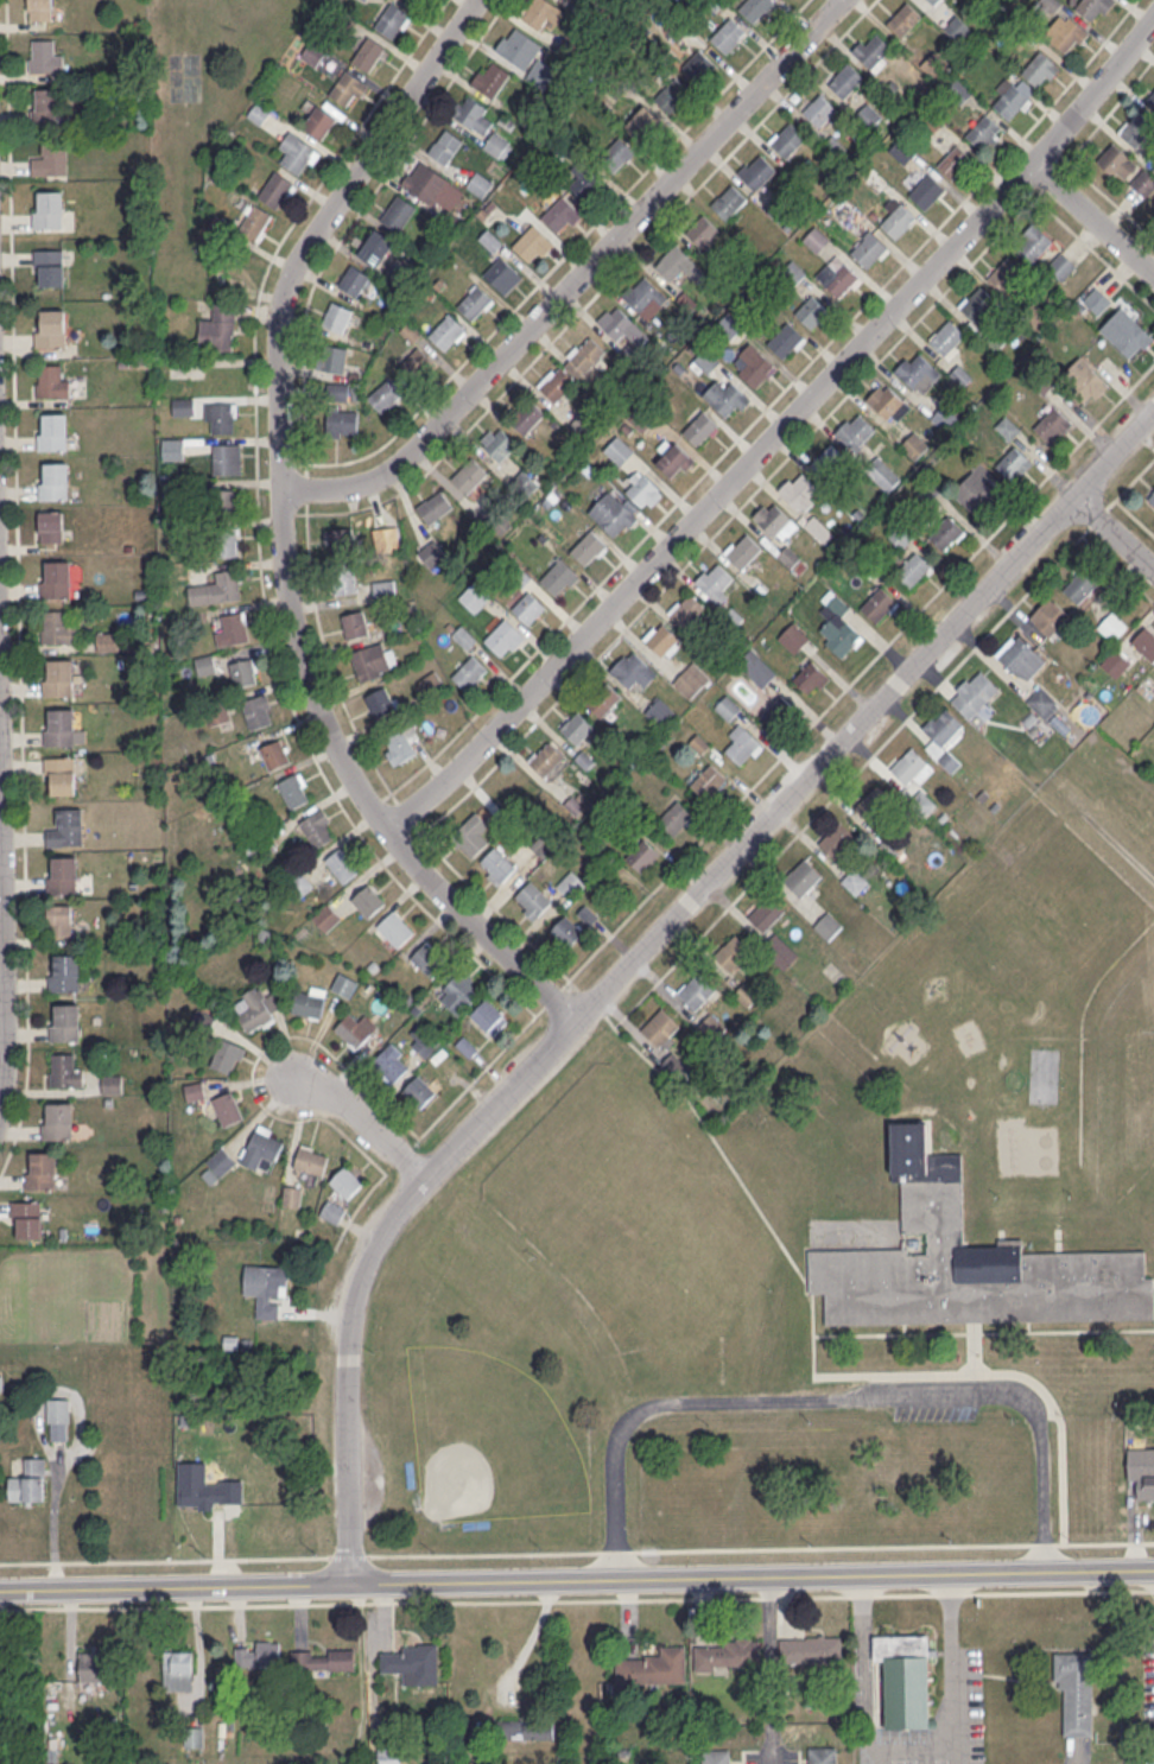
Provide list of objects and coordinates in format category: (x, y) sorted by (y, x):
building: (363, 0)
building: (411, 1)
building: (933, 1)
building: (1090, 6)
building: (754, 7)
building: (40, 9)
building: (543, 12)
building: (903, 18)
building: (391, 19)
building: (957, 27)
building: (1066, 32)
building: (727, 33)
building: (514, 43)
building: (873, 50)
building: (312, 52)
building: (368, 53)
building: (44, 57)
building: (698, 65)
building: (1038, 68)
building: (490, 77)
park: (183, 78)
building: (845, 80)
building: (345, 87)
park: (205, 88)
building: (958, 90)
building: (672, 95)
building: (1150, 99)
building: (1010, 101)
building: (46, 104)
building: (818, 109)
building: (474, 114)
building: (868, 115)
building: (319, 121)
building: (642, 121)
building: (982, 131)
building: (1137, 131)
building: (787, 139)
building: (444, 145)
building: (497, 145)
building: (901, 150)
building: (296, 151)
building: (615, 152)
building: (51, 158)
building: (953, 160)
building: (1124, 167)
building: (757, 172)
building: (480, 183)
building: (584, 183)
building: (432, 185)
building: (274, 188)
building: (926, 190)
building: (729, 199)
road: (1110, 199)
building: (49, 209)
building: (398, 211)
building: (559, 211)
road: (353, 218)
road: (1093, 218)
building: (898, 220)
building: (255, 221)
building: (702, 230)
building: (816, 239)
building: (530, 241)
building: (376, 243)
building: (1034, 243)
building: (868, 248)
road: (1095, 250)
road: (563, 255)
building: (673, 262)
building: (50, 265)
building: (1061, 265)
building: (393, 273)
building: (1004, 273)
building: (502, 274)
road: (582, 278)
building: (841, 278)
building: (354, 279)
road: (601, 287)
building: (641, 293)
building: (1097, 299)
building: (475, 303)
building: (977, 303)
building: (811, 310)
building: (337, 317)
building: (615, 322)
building: (729, 325)
building: (51, 328)
building: (217, 328)
building: (446, 330)
building: (1127, 330)
building: (946, 336)
building: (786, 340)
building: (586, 354)
building: (332, 357)
building: (417, 361)
building: (704, 362)
building: (756, 369)
building: (917, 369)
building: (51, 381)
building: (1086, 383)
building: (558, 385)
building: (386, 394)
building: (725, 396)
building: (888, 402)
building: (183, 405)
road: (766, 407)
building: (220, 417)
building: (526, 417)
building: (342, 421)
building: (1051, 424)
building: (1008, 426)
building: (699, 427)
building: (53, 430)
road: (781, 432)
building: (856, 432)
building: (497, 442)
building: (917, 443)
building: (172, 449)
building: (619, 450)
road: (790, 453)
building: (673, 457)
building: (227, 458)
building: (828, 462)
building: (1012, 462)
road: (287, 464)
building: (882, 472)
building: (468, 475)
building: (55, 480)
road: (305, 487)
building: (642, 489)
building: (798, 489)
building: (974, 490)
building: (1150, 496)
building: (223, 501)
building: (433, 506)
road: (287, 513)
road: (1134, 515)
building: (616, 518)
building: (775, 520)
building: (51, 525)
road: (256, 525)
road: (281, 529)
road: (1116, 529)
building: (945, 532)
building: (387, 533)
building: (902, 534)
building: (341, 540)
building: (226, 542)
building: (588, 546)
building: (744, 550)
building: (431, 553)
road: (1117, 567)
building: (913, 569)
building: (558, 576)
building: (56, 577)
building: (342, 578)
building: (716, 579)
building: (1079, 584)
building: (216, 588)
road: (18, 589)
building: (474, 596)
building: (877, 603)
building: (528, 608)
building: (687, 608)
building: (1048, 616)
building: (355, 624)
building: (1112, 626)
building: (56, 627)
building: (232, 629)
building: (503, 635)
building: (463, 636)
building: (793, 636)
building: (843, 637)
building: (662, 639)
building: (1145, 641)
road: (328, 656)
building: (1020, 656)
building: (373, 660)
building: (1114, 662)
building: (204, 664)
building: (756, 667)
building: (633, 668)
building: (243, 672)
building: (469, 672)
building: (58, 677)
building: (810, 677)
building: (691, 679)
road: (849, 684)
building: (976, 687)
building: (603, 698)
building: (380, 702)
building: (1042, 702)
building: (728, 706)
building: (258, 710)
building: (660, 711)
building: (778, 711)
building: (941, 725)
building: (59, 726)
building: (576, 726)
road: (883, 741)
building: (401, 743)
building: (742, 745)
building: (274, 754)
building: (546, 757)
building: (908, 764)
building: (59, 773)
building: (708, 780)
building: (293, 789)
road: (375, 801)
building: (875, 804)
road: (404, 811)
building: (674, 816)
building: (65, 826)
building: (318, 827)
building: (471, 833)
building: (836, 839)
road: (407, 842)
building: (895, 842)
building: (642, 855)
building: (341, 864)
building: (496, 865)
building: (63, 874)
building: (803, 876)
building: (571, 884)
building: (368, 899)
building: (532, 900)
road: (501, 913)
building: (766, 913)
building: (326, 916)
building: (59, 920)
building: (828, 925)
building: (395, 927)
building: (566, 929)
road: (645, 947)
building: (731, 951)
building: (780, 951)
building: (429, 958)
building: (65, 972)
building: (343, 984)
building: (696, 990)
building: (459, 991)
building: (746, 994)
building: (310, 1001)
road: (600, 1004)
road: (2, 1007)
building: (256, 1007)
building: (489, 1016)
building: (65, 1022)
building: (659, 1027)
building: (356, 1028)
road: (299, 1034)
flagpole: (912, 1046)
building: (227, 1055)
building: (391, 1061)
building: (64, 1070)
building: (112, 1083)
building: (195, 1090)
building: (423, 1092)
building: (228, 1108)
road: (367, 1116)
building: (58, 1119)
building: (262, 1148)
building: (310, 1159)
building: (216, 1165)
building: (43, 1169)
building: (345, 1181)
building: (292, 1195)
building: (334, 1211)
building: (28, 1217)
building: (966, 1259)
building: (266, 1286)
park: (563, 1300)
road: (983, 1331)
road: (974, 1345)
road: (813, 1351)
road: (833, 1397)
building: (58, 1417)
park: (489, 1438)
building: (1141, 1460)
building: (30, 1480)
building: (197, 1493)
road: (53, 1511)
road: (1104, 1542)
road: (1044, 1543)
road: (515, 1554)
road: (576, 1575)
road: (1150, 1589)
road: (1060, 1591)
road: (906, 1593)
road: (953, 1593)
road: (863, 1594)
road: (824, 1595)
road: (781, 1597)
road: (380, 1601)
road: (530, 1637)
building: (811, 1649)
building: (259, 1652)
building: (727, 1652)
building: (323, 1660)
road: (771, 1661)
building: (413, 1663)
building: (94, 1665)
building: (657, 1665)
building: (178, 1668)
building: (905, 1679)
building: (1076, 1690)
building: (527, 1728)
building: (192, 1736)
road: (908, 1750)
building: (822, 1755)
building: (388, 1756)
building: (715, 1756)
road: (773, 1757)
road: (882, 1757)
road: (926, 1757)
road: (958, 1757)

